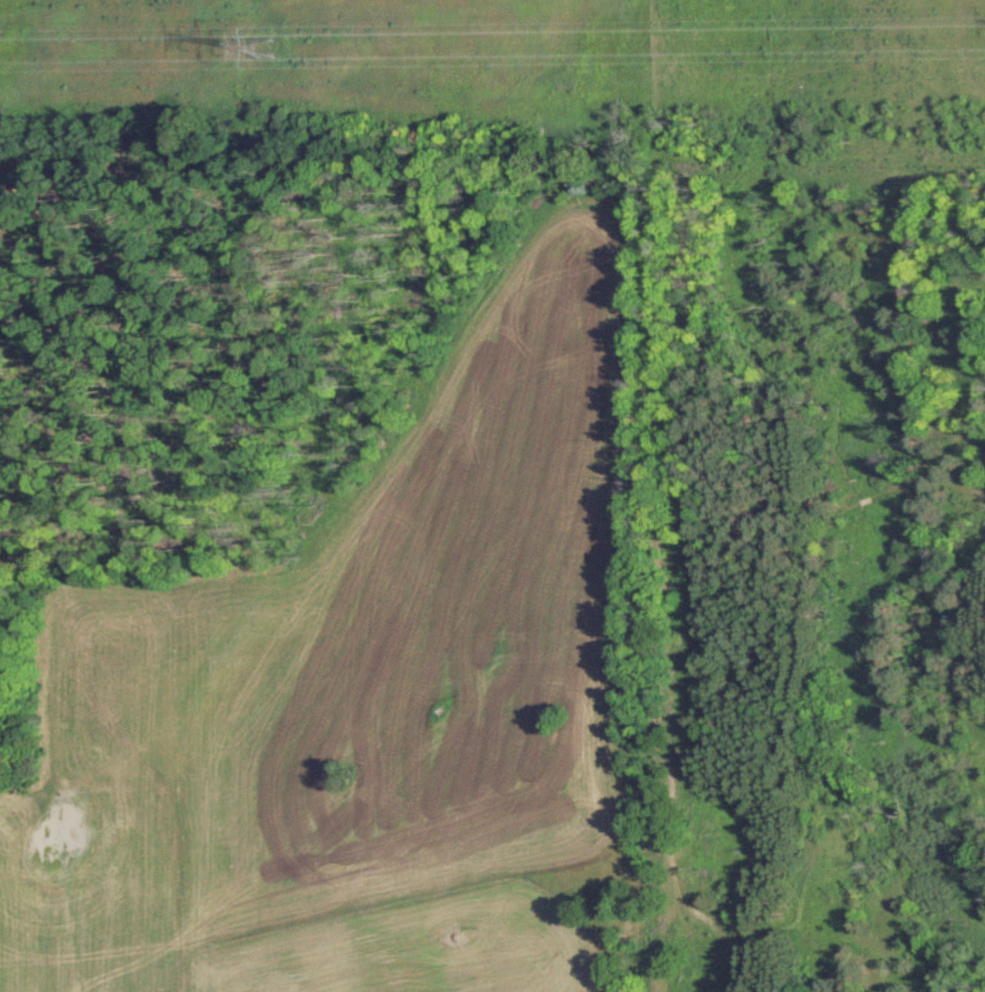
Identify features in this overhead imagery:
power tower: (269, 42)
crop: (359, 664)

